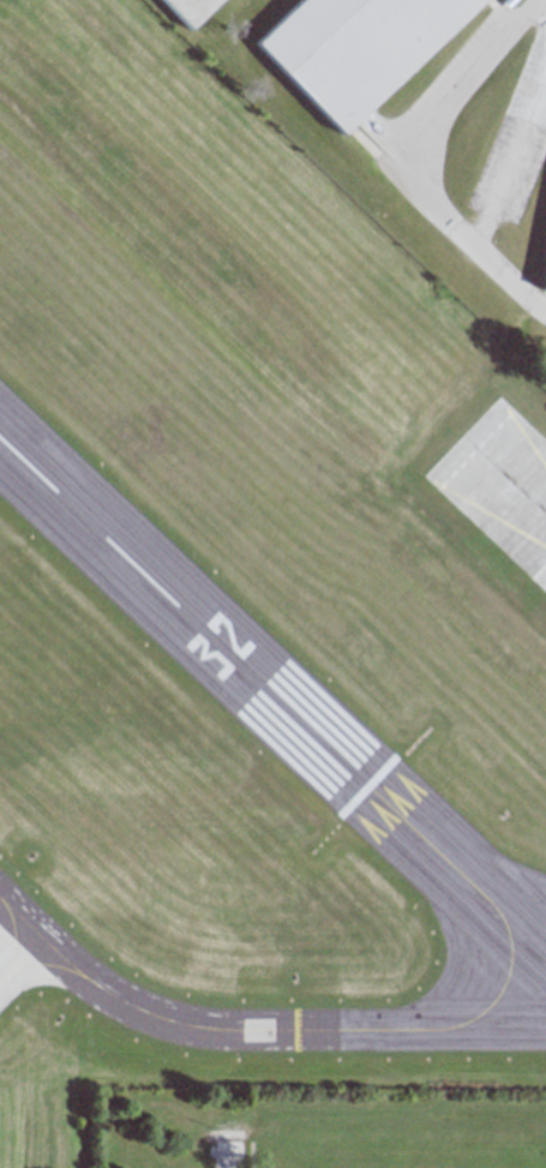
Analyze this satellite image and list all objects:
building: (510, 4)
building: (188, 11)
road: (534, 14)
building: (356, 48)
road: (508, 157)
road: (396, 164)
building: (545, 288)
airport: (248, 613)
airport runway: (203, 631)
airport apron: (18, 971)
airport taxiway: (348, 1029)
park: (326, 1128)
road: (227, 1151)

